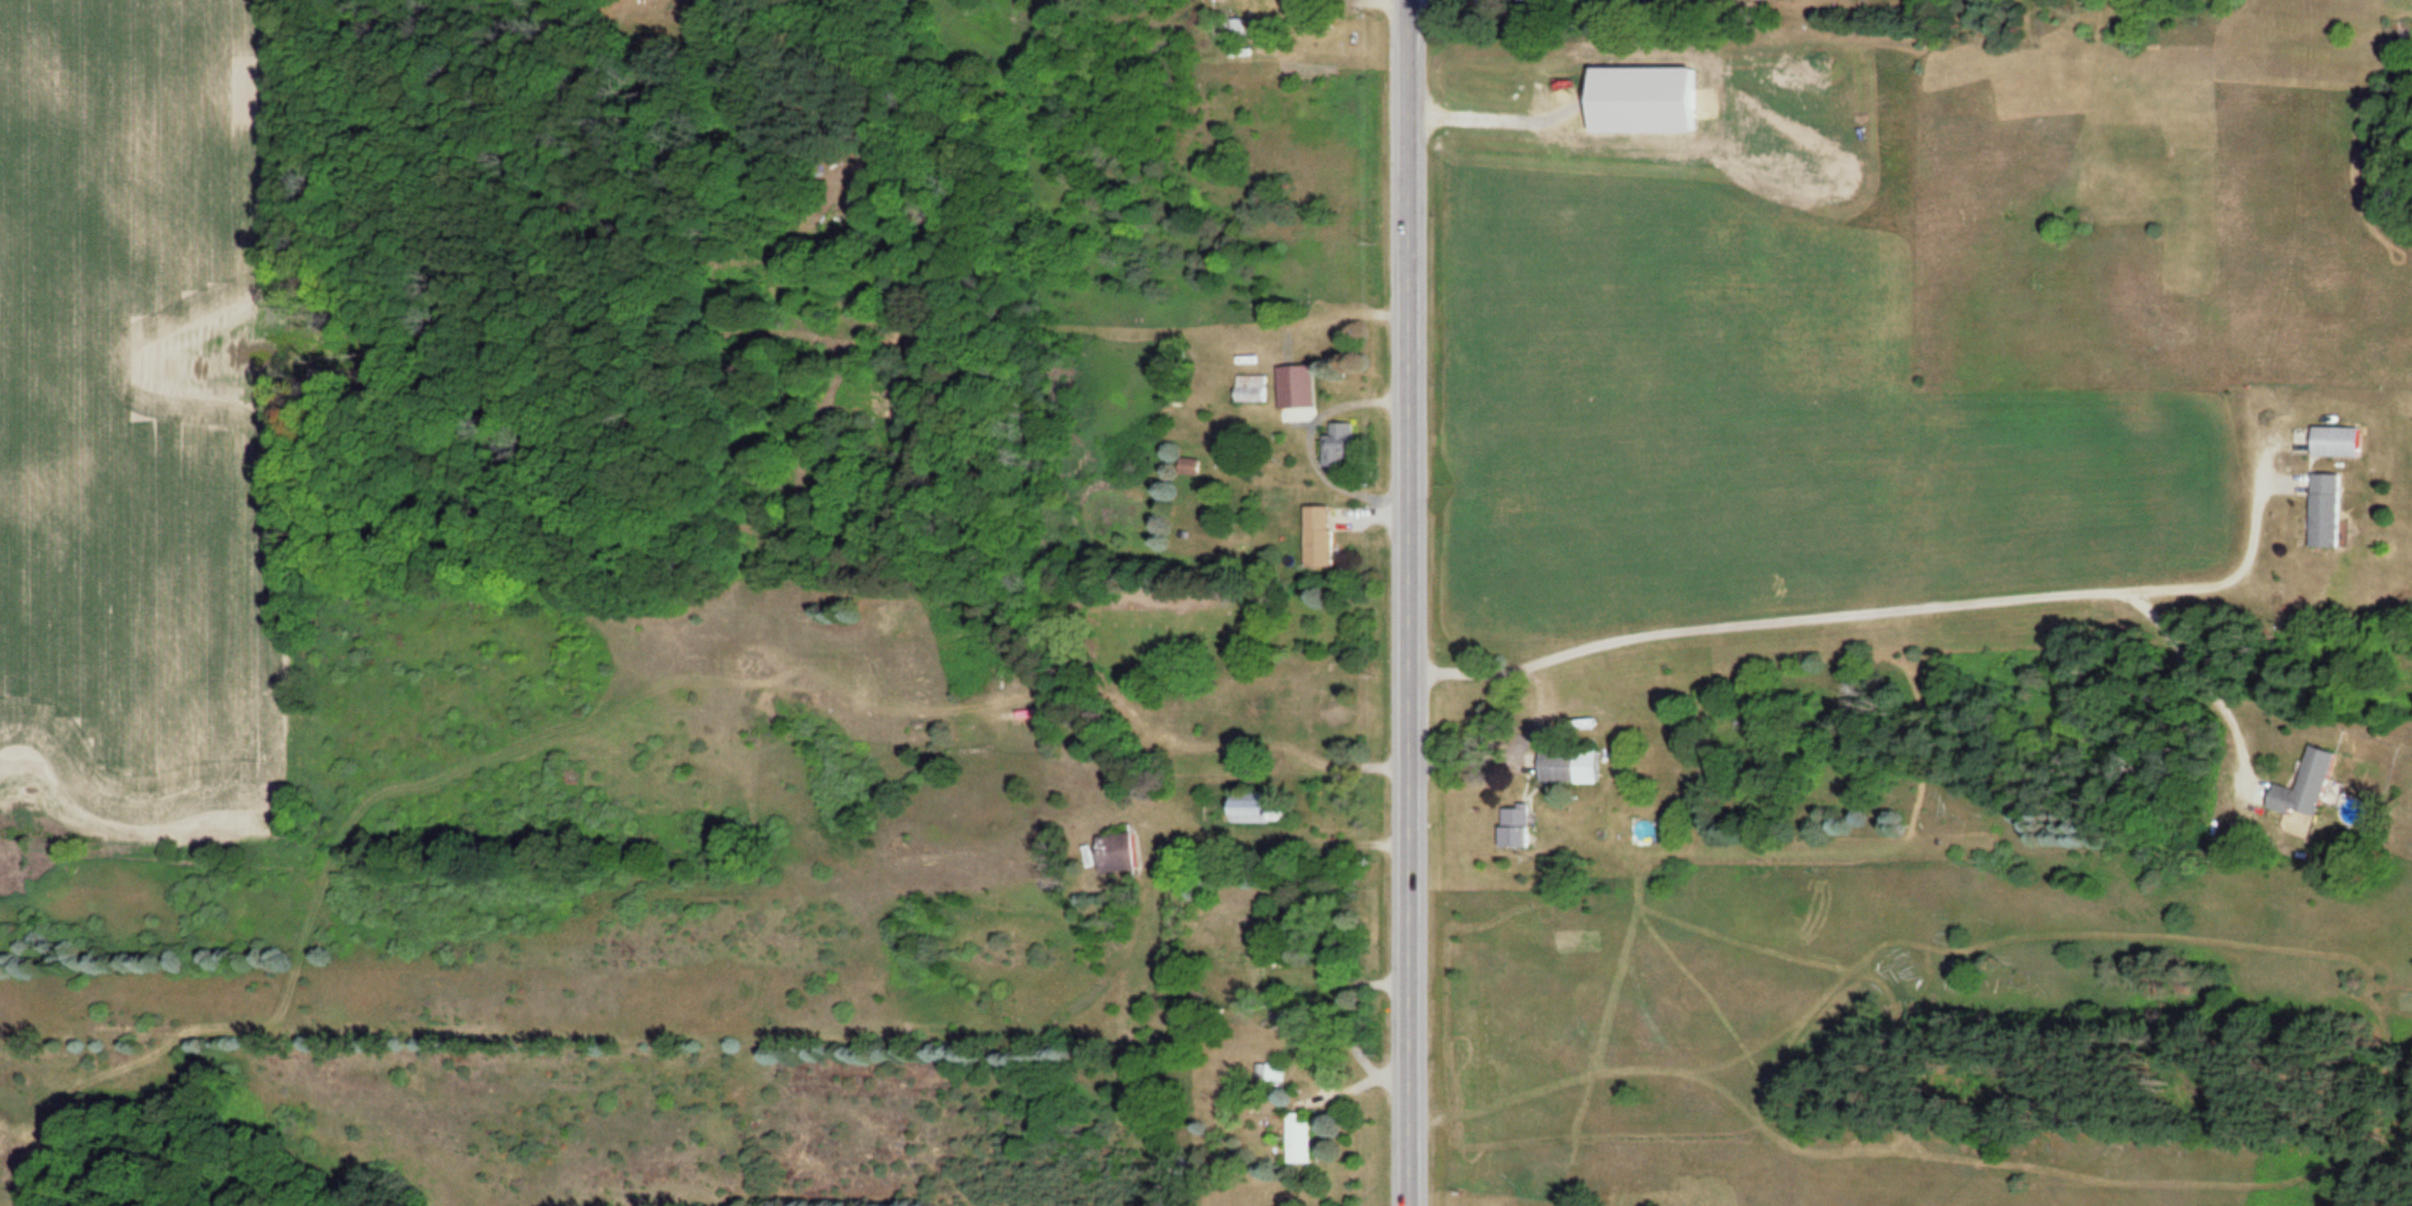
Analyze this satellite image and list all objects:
building: (1248, 389)
building: (1298, 397)
building: (2332, 441)
building: (1333, 446)
building: (1184, 466)
building: (2323, 511)
building: (1314, 536)
road: (1405, 603)
building: (1190, 708)
building: (1333, 710)
building: (1565, 766)
building: (2300, 787)
building: (1254, 809)
building: (1111, 855)
building: (1271, 1073)
building: (1295, 1141)

